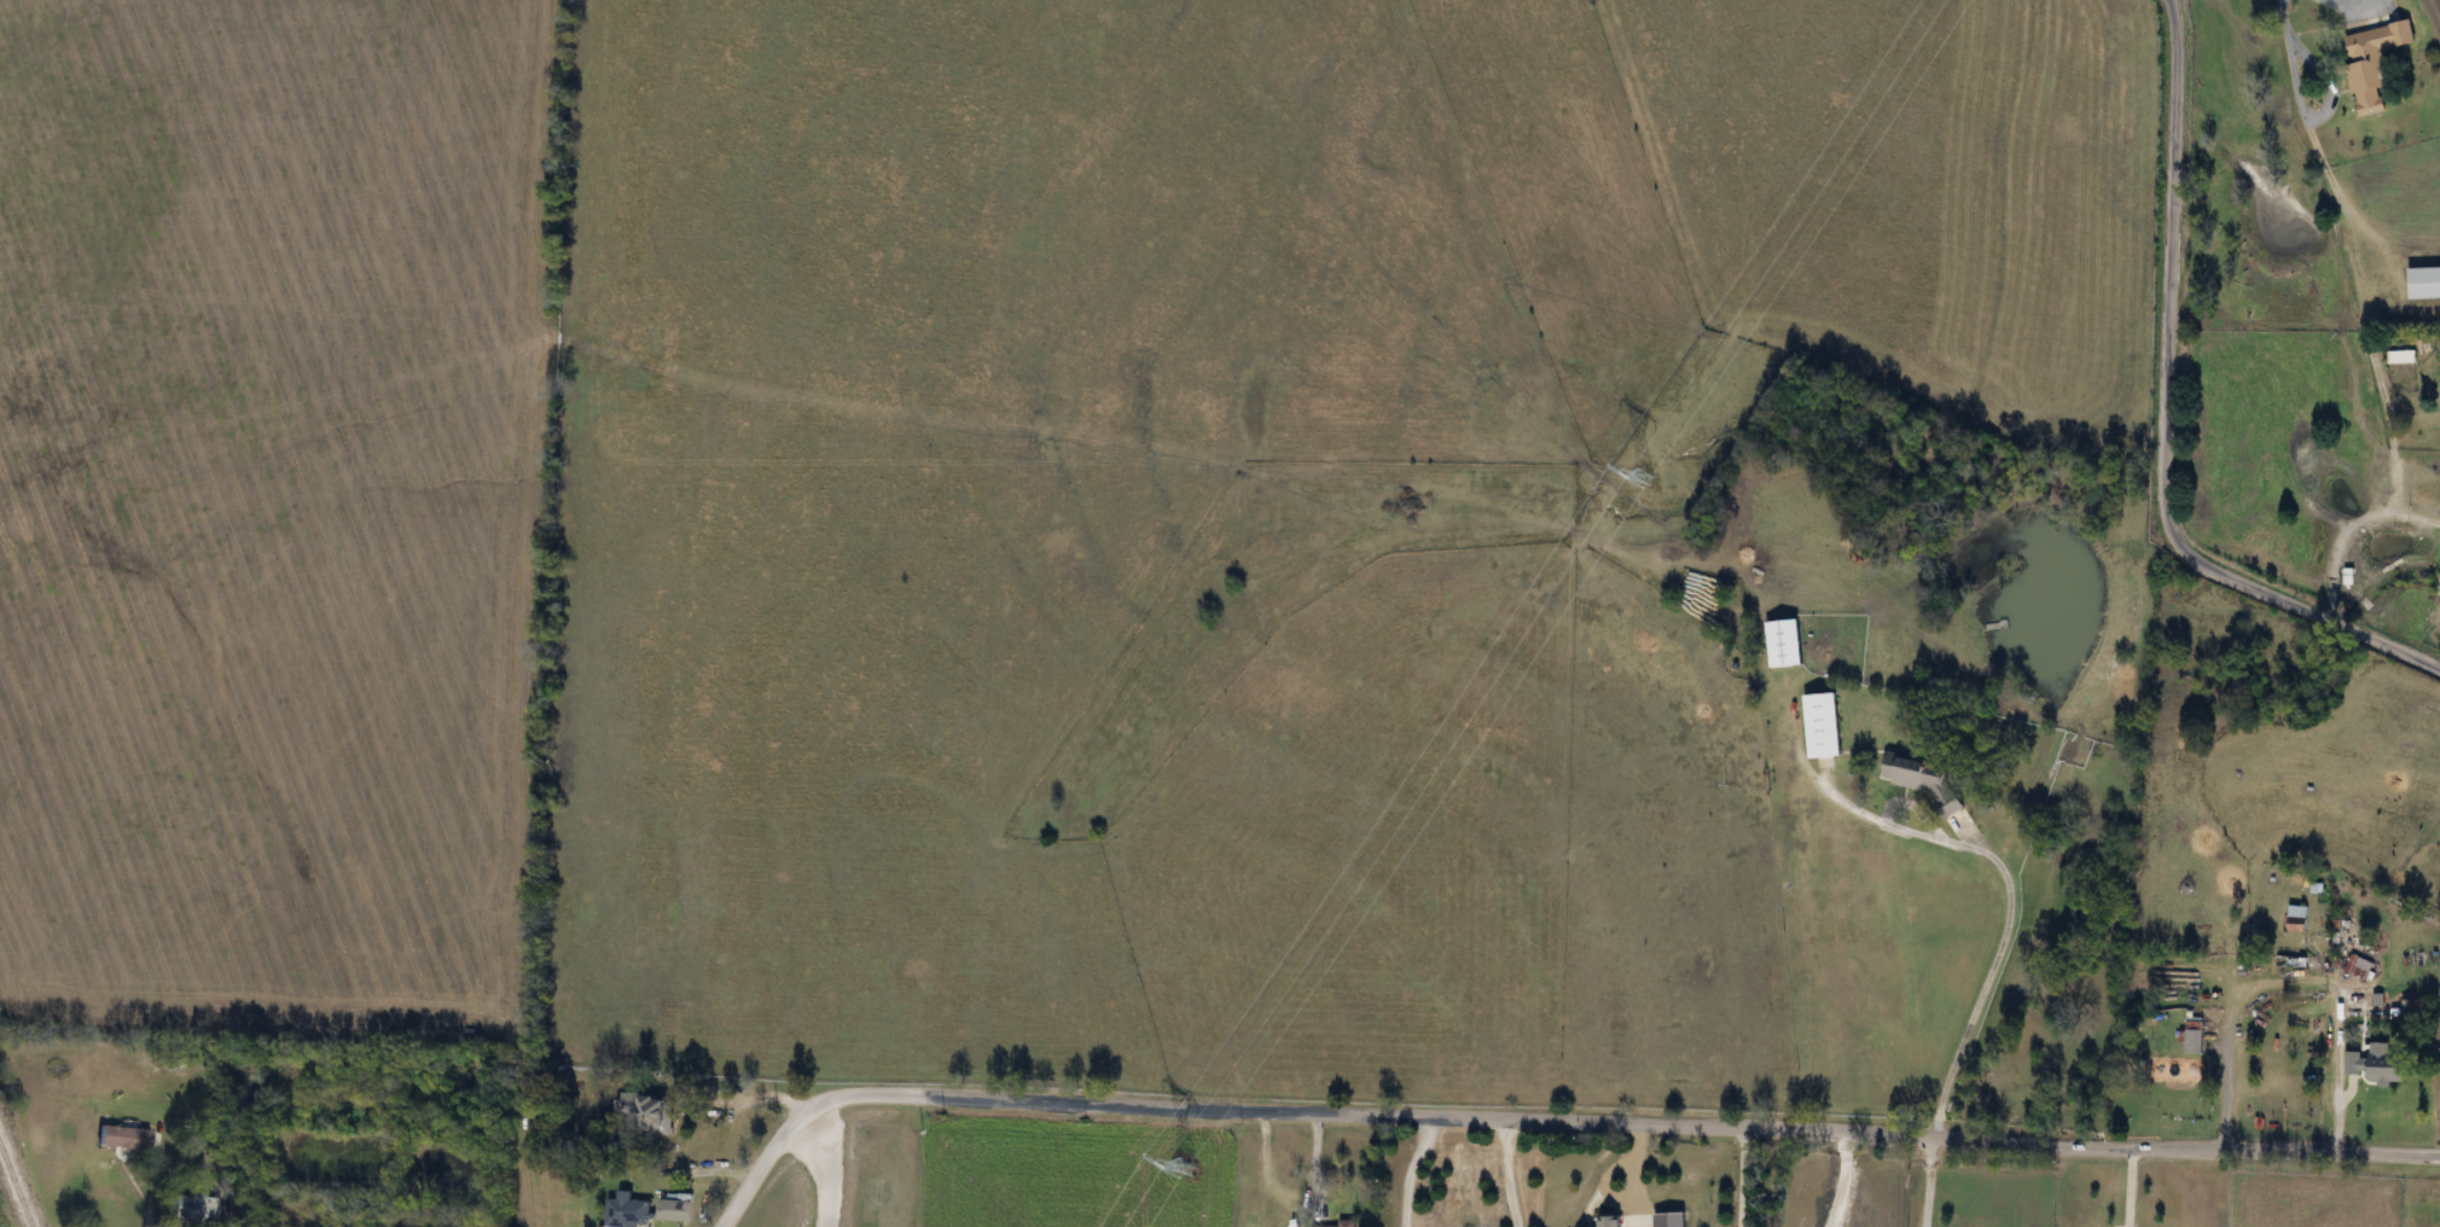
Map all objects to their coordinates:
road: (2351, 4)
building: (2372, 63)
building: (2424, 283)
road: (2165, 419)
power tower: (1640, 472)
road: (2347, 527)
building: (1783, 642)
building: (1823, 725)
building: (1923, 775)
building: (2297, 918)
road: (1988, 972)
road: (2290, 982)
building: (2194, 1035)
building: (2376, 1064)
building: (2182, 1069)
building: (476, 1083)
building: (649, 1111)
road: (1615, 1122)
building: (122, 1136)
power tower: (1185, 1164)
road: (528, 1168)
road: (1412, 1168)
road: (756, 1170)
road: (1743, 1176)
road: (1841, 1180)
road: (1925, 1181)
railway: (14, 1187)
road: (1289, 1191)
road: (1625, 1202)
building: (192, 1205)
building: (674, 1210)
building: (627, 1211)
building: (1336, 1223)

